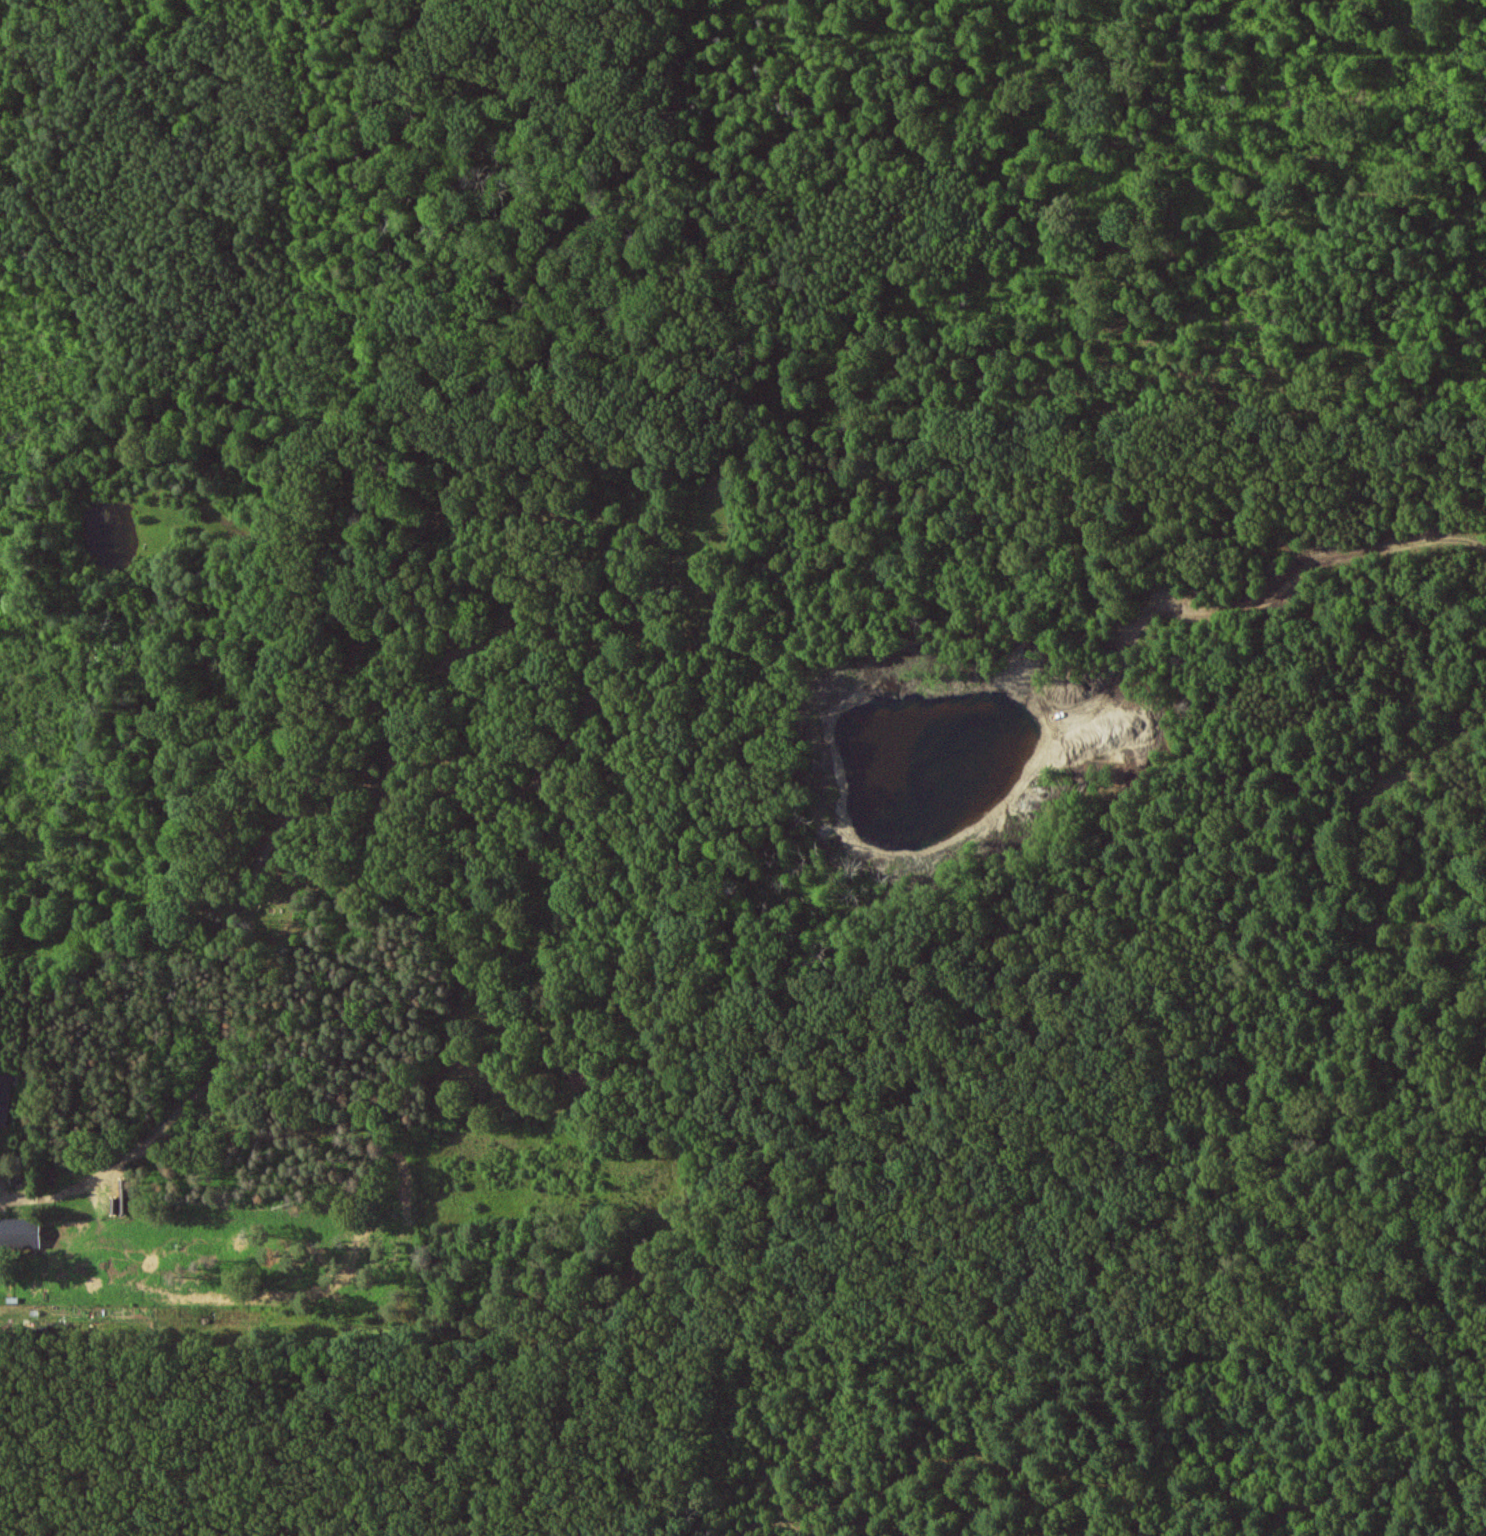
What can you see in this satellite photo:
building: (577, 1081)
building: (4, 1099)
road: (38, 1193)
building: (19, 1234)

